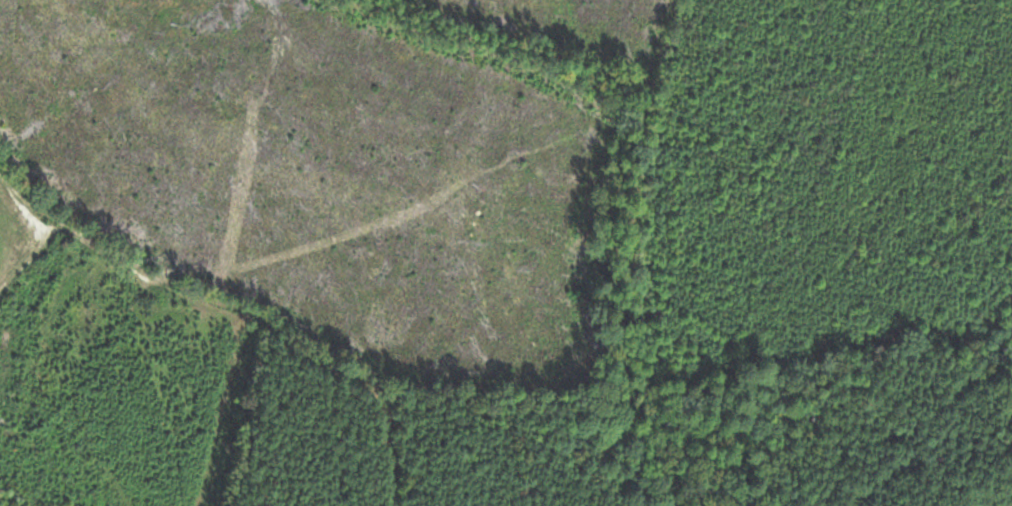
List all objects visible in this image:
road: (233, 319)

